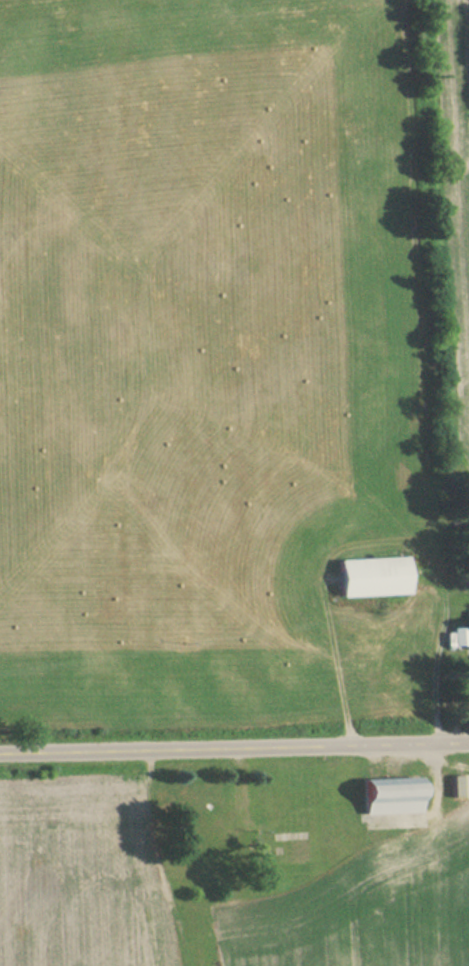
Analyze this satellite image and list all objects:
building: (370, 577)
building: (460, 635)
road: (440, 650)
road: (234, 748)
building: (457, 785)
building: (388, 795)

